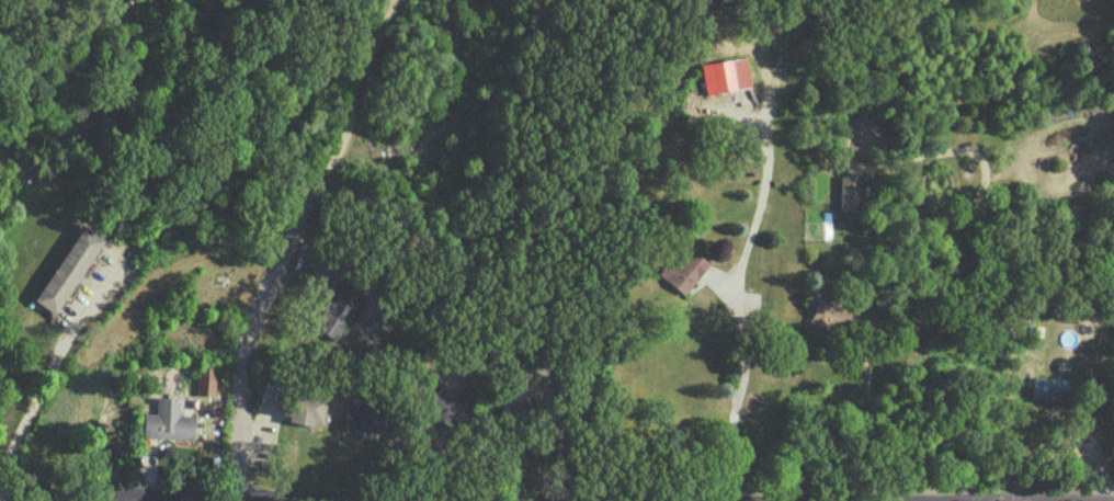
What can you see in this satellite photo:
road: (386, 9)
building: (724, 75)
building: (849, 192)
road: (280, 251)
building: (66, 267)
building: (680, 270)
road: (345, 273)
road: (735, 307)
building: (337, 312)
building: (831, 312)
building: (1048, 387)
road: (39, 392)
building: (515, 405)
building: (65, 408)
building: (448, 408)
building: (307, 409)
building: (364, 417)
building: (168, 420)
road: (1091, 445)
road: (113, 498)
road: (828, 500)

